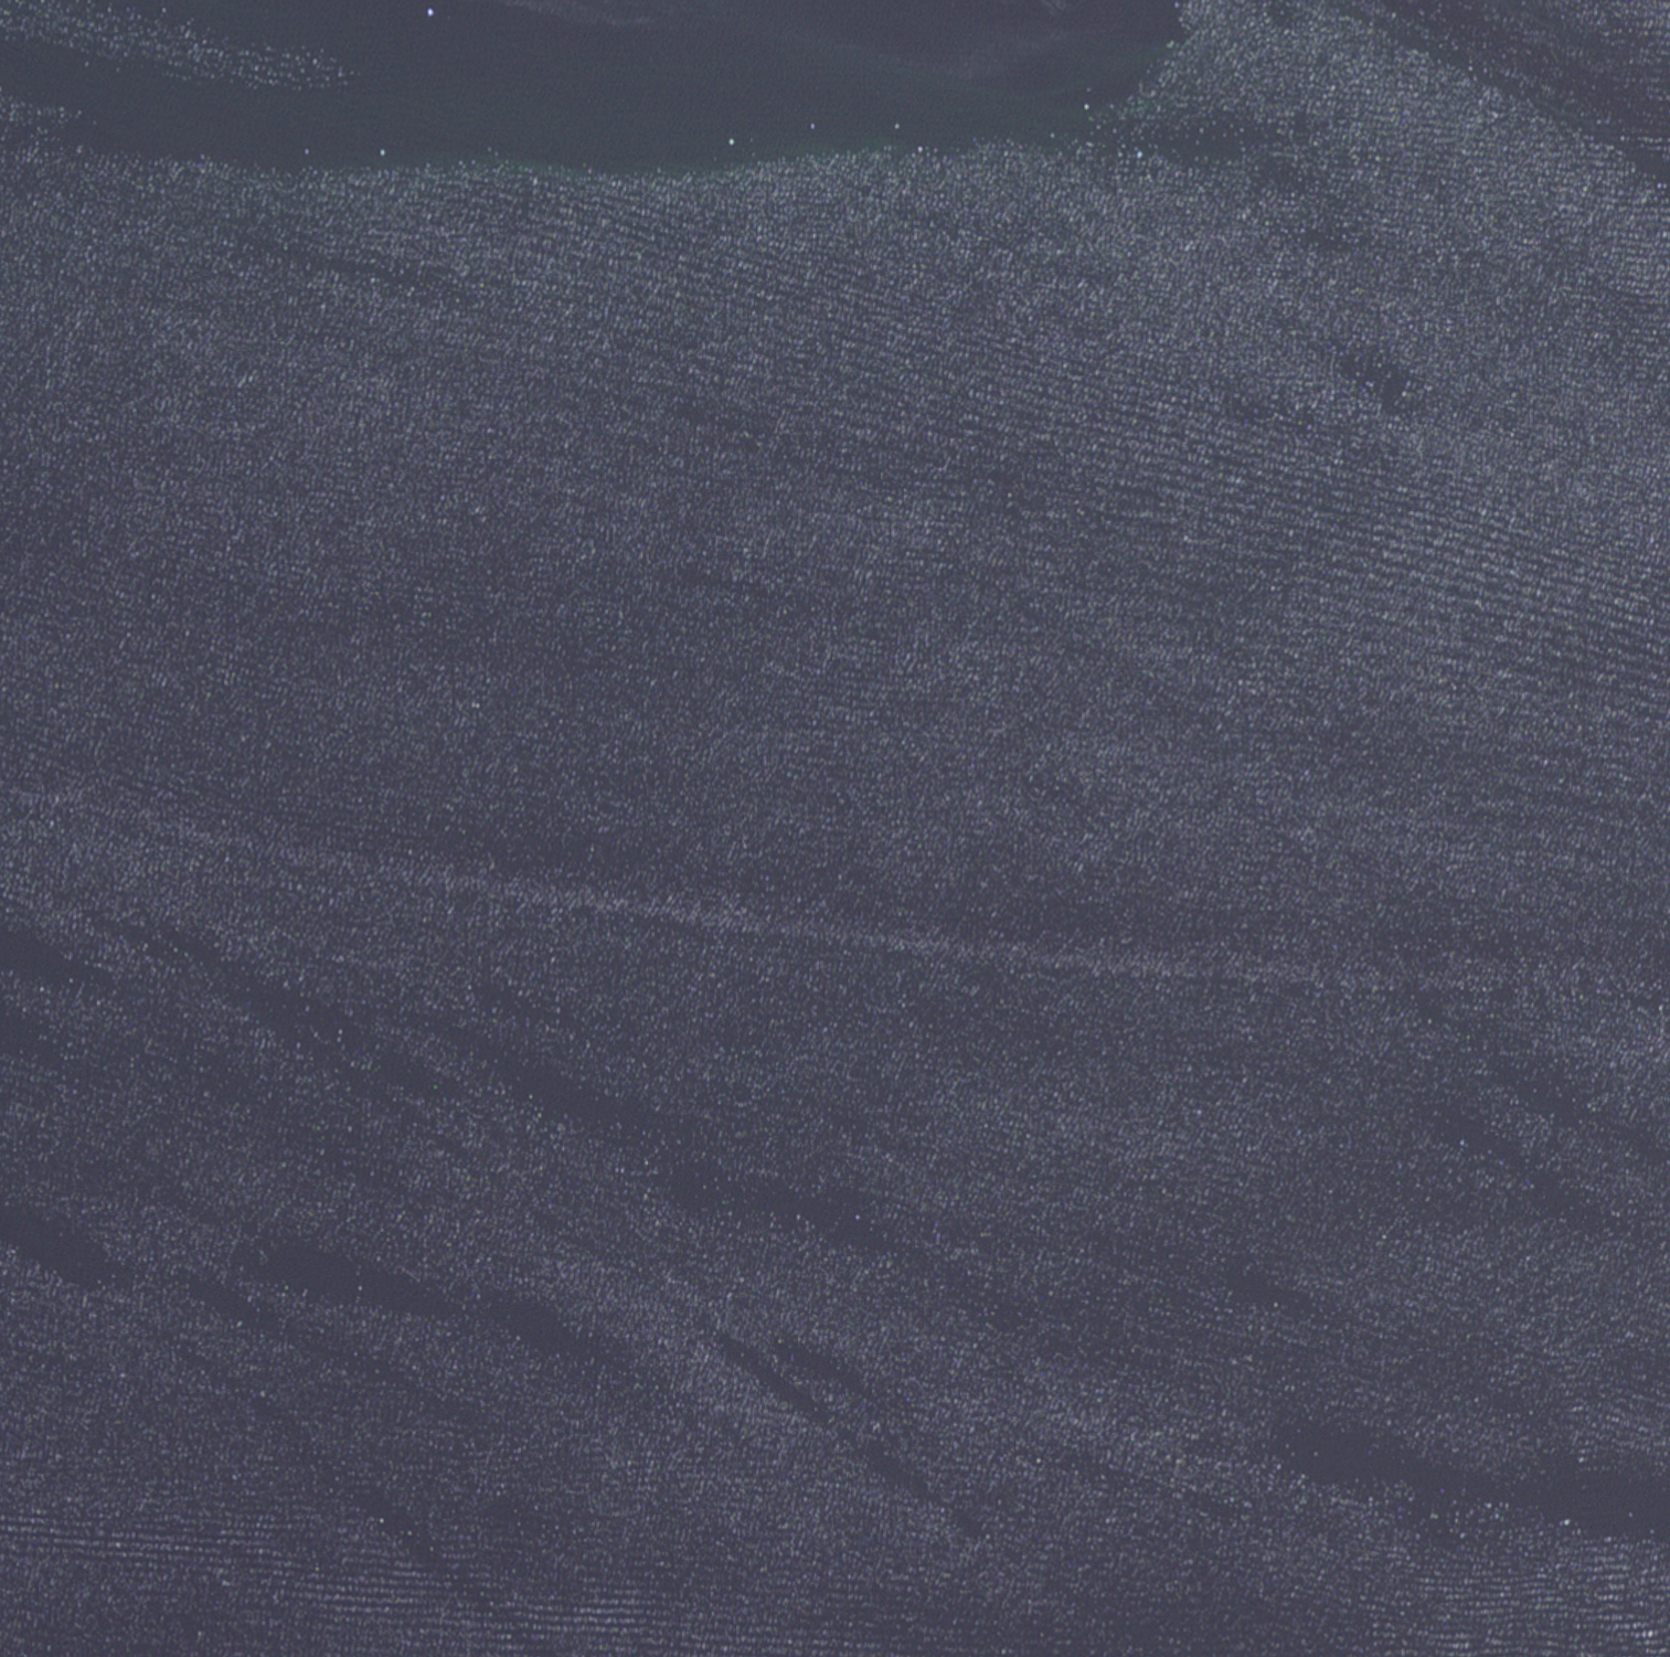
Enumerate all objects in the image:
building: (1416, 447)

